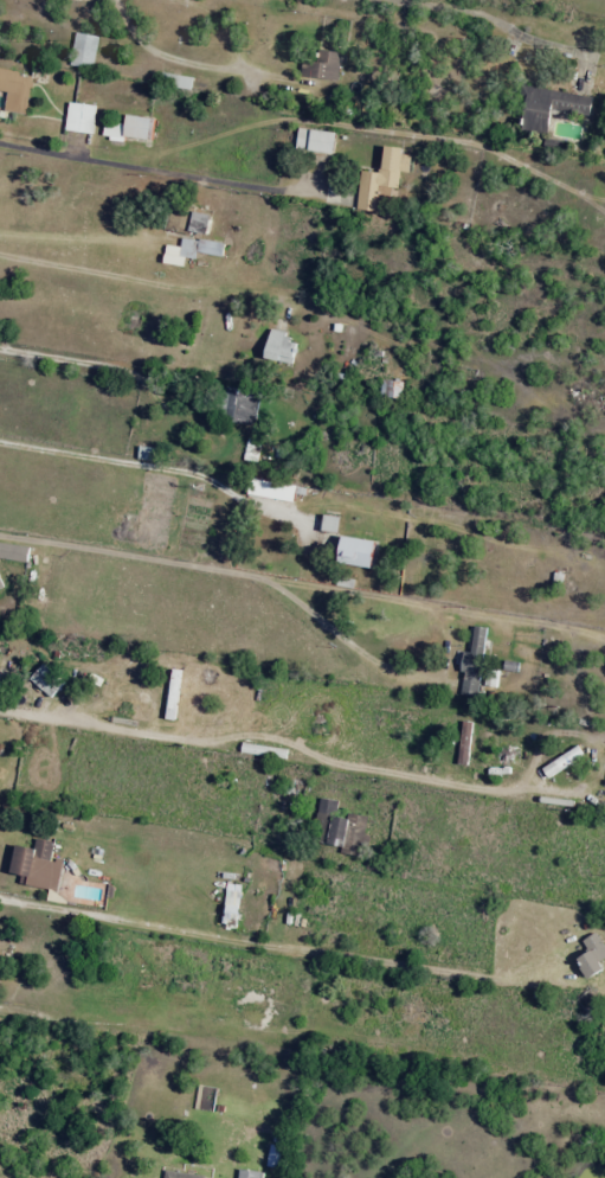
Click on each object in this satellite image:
road: (496, 25)
building: (84, 51)
building: (322, 65)
building: (15, 91)
building: (549, 107)
building: (81, 117)
road: (350, 124)
building: (130, 128)
building: (315, 140)
road: (154, 173)
building: (382, 180)
building: (200, 223)
road: (82, 239)
road: (155, 286)
building: (281, 347)
road: (85, 365)
building: (391, 389)
building: (240, 409)
road: (214, 453)
road: (167, 473)
building: (276, 491)
building: (330, 524)
building: (14, 552)
building: (356, 552)
road: (234, 575)
building: (474, 662)
building: (46, 680)
road: (117, 730)
building: (326, 811)
building: (349, 834)
building: (38, 865)
building: (232, 904)
road: (115, 922)
building: (592, 955)
building: (180, 1174)

